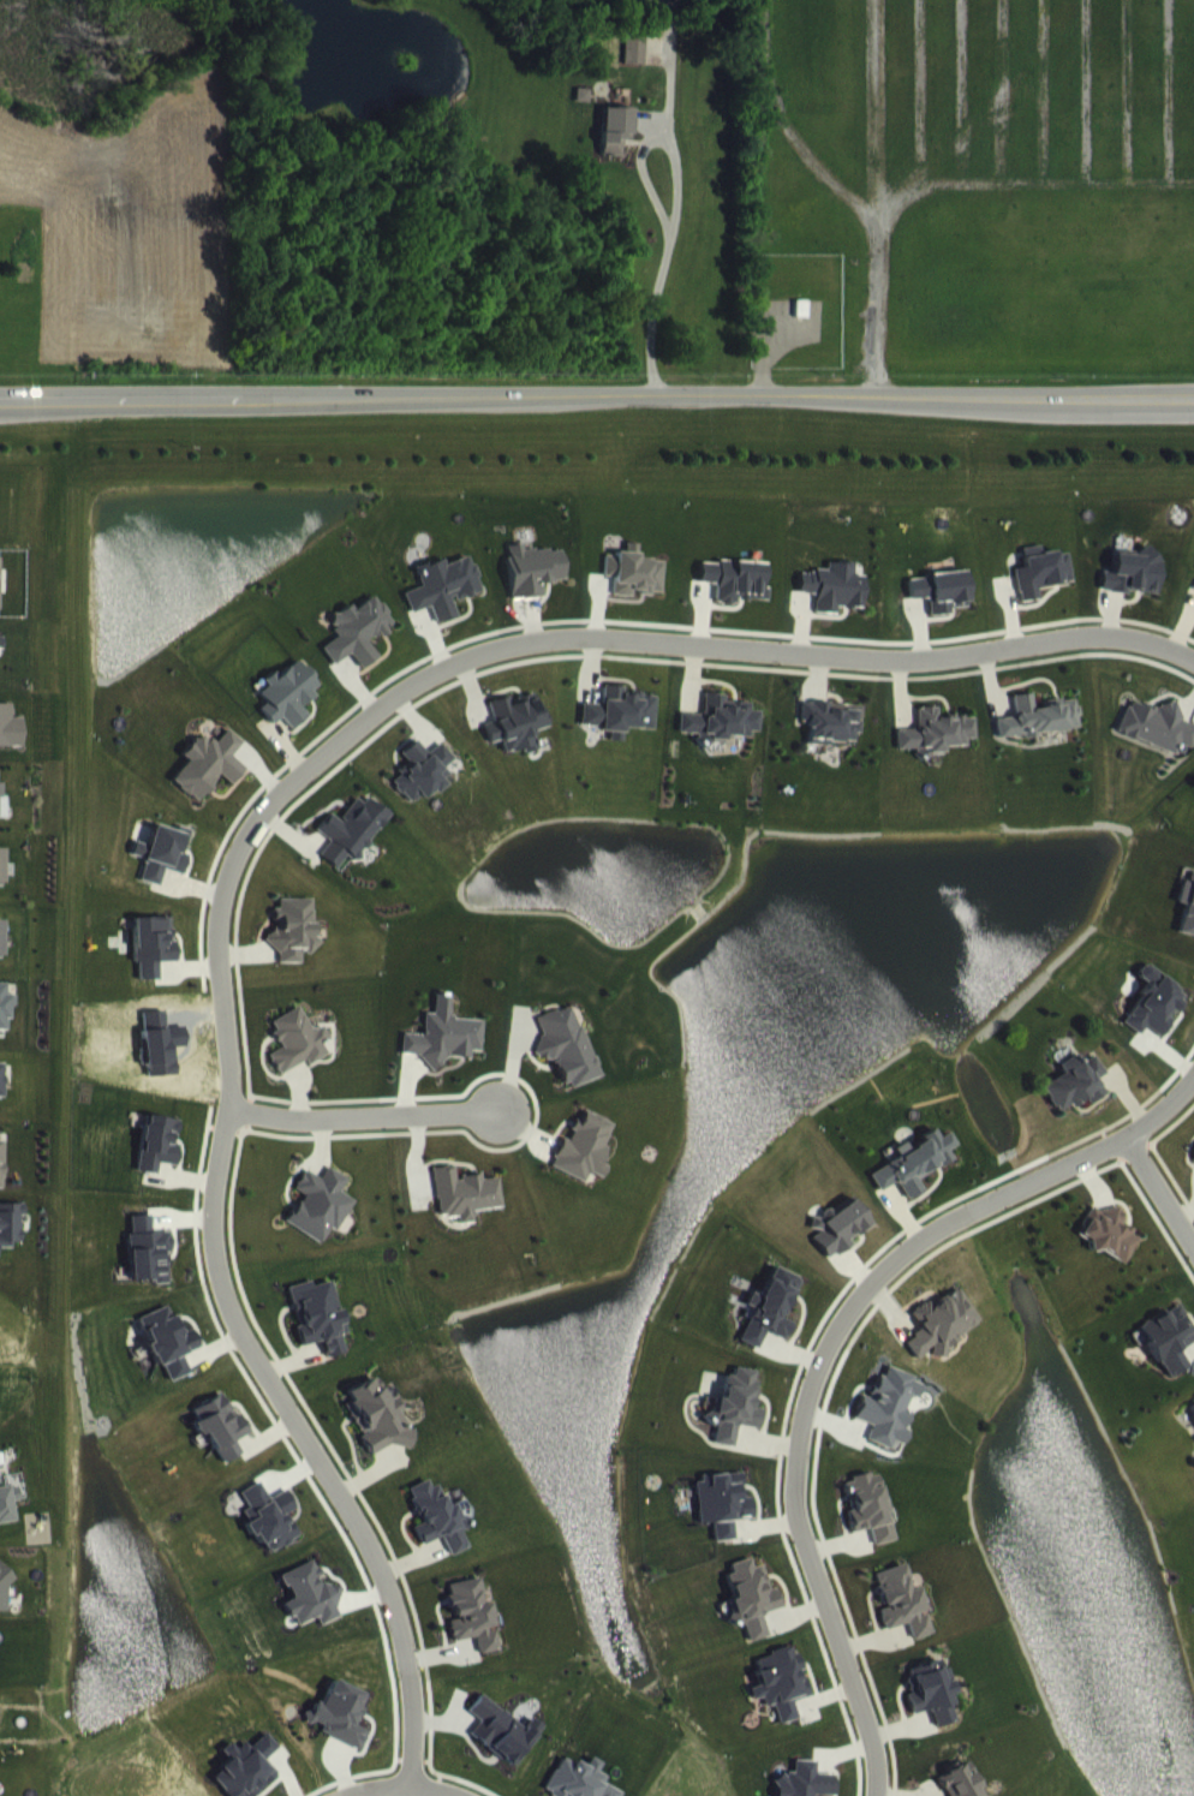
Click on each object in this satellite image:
building: (639, 8)
building: (634, 66)
building: (615, 145)
road: (661, 264)
road: (597, 392)
building: (0, 580)
building: (531, 586)
building: (1041, 587)
building: (631, 589)
building: (1132, 589)
building: (733, 596)
building: (443, 603)
building: (832, 603)
building: (938, 607)
road: (685, 642)
building: (357, 648)
building: (1, 660)
building: (287, 710)
building: (623, 727)
building: (587, 730)
building: (1035, 733)
building: (717, 735)
building: (829, 738)
building: (515, 739)
building: (1156, 741)
building: (10, 744)
building: (933, 748)
building: (208, 781)
building: (422, 787)
building: (1, 805)
building: (351, 846)
building: (163, 870)
building: (1, 882)
building: (1187, 920)
building: (292, 945)
building: (1, 956)
building: (151, 961)
building: (6, 1022)
building: (443, 1051)
building: (297, 1057)
building: (563, 1062)
building: (0, 1096)
building: (1074, 1099)
road: (360, 1115)
road: (1092, 1150)
building: (157, 1159)
building: (581, 1164)
building: (0, 1169)
building: (1193, 1175)
building: (911, 1179)
road: (1162, 1187)
building: (465, 1210)
building: (321, 1219)
building: (10, 1240)
building: (836, 1242)
building: (1106, 1249)
building: (147, 1266)
building: (768, 1324)
road: (234, 1326)
building: (317, 1332)
building: (937, 1339)
building: (1169, 1355)
building: (167, 1358)
building: (733, 1422)
building: (1192, 1422)
building: (884, 1425)
building: (375, 1433)
building: (219, 1443)
road: (792, 1468)
building: (7, 1518)
building: (721, 1520)
building: (866, 1523)
building: (267, 1533)
building: (435, 1533)
building: (4, 1605)
building: (309, 1612)
building: (748, 1613)
building: (897, 1617)
building: (468, 1630)
building: (777, 1699)
building: (927, 1707)
building: (497, 1747)
building: (246, 1777)
road: (369, 1786)
road: (430, 1788)
building: (572, 1788)
building: (802, 1788)
building: (955, 1789)

